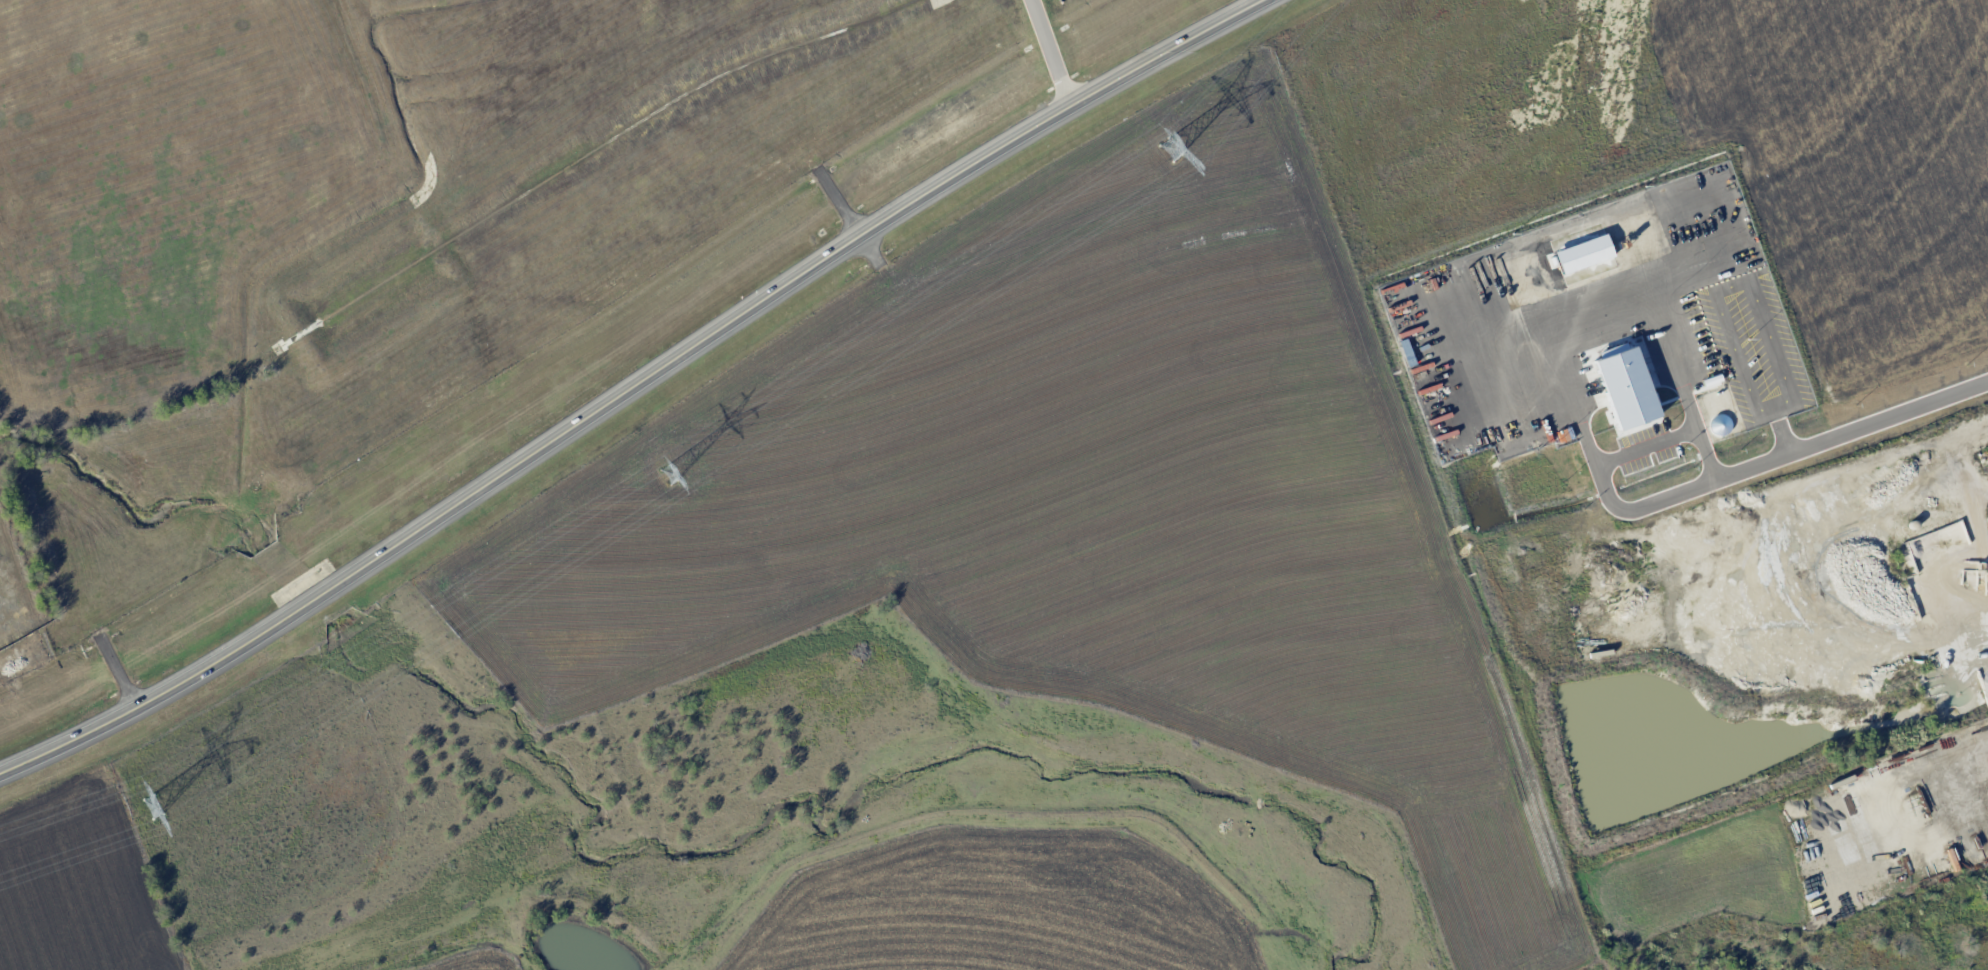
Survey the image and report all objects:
road: (1050, 53)
power tower: (1170, 149)
building: (1620, 385)
road: (631, 386)
road: (1850, 427)
road: (1603, 470)
power tower: (668, 476)
road: (1958, 778)
power tower: (152, 805)

